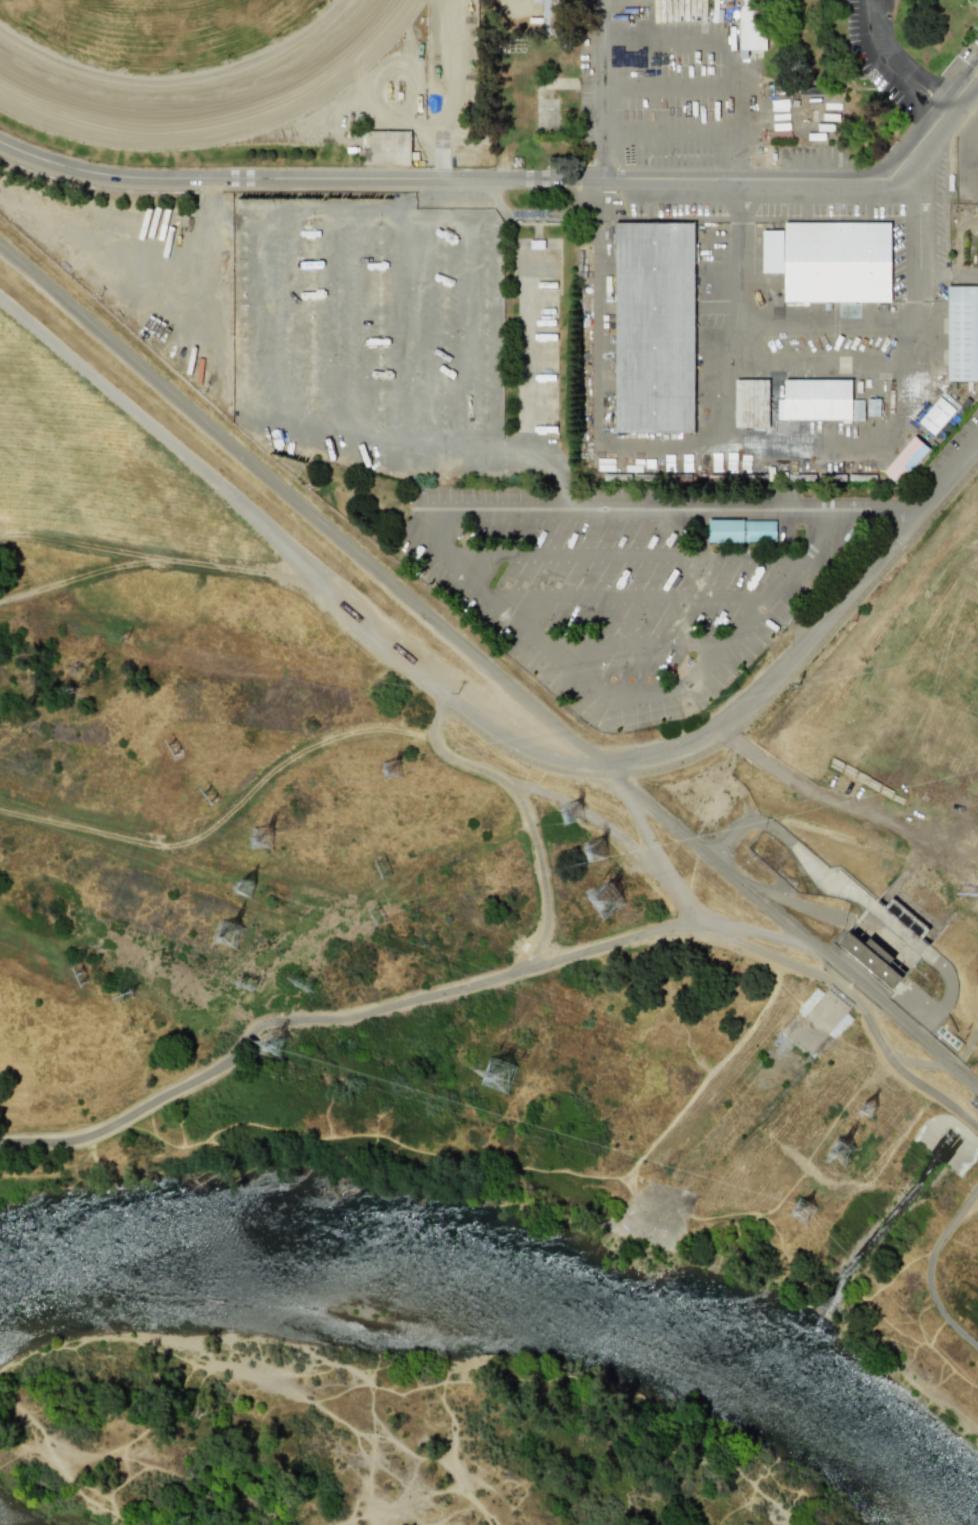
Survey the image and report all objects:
building: (547, 10)
building: (749, 26)
road: (730, 46)
road: (894, 63)
track: (183, 64)
road: (966, 67)
track: (194, 77)
road: (604, 89)
road: (668, 90)
road: (972, 157)
road: (966, 162)
parking lot: (967, 163)
road: (504, 179)
theme park: (552, 194)
road: (312, 211)
road: (376, 212)
road: (432, 215)
road: (475, 217)
road: (931, 221)
road: (911, 238)
building: (830, 261)
road: (824, 324)
building: (654, 326)
road: (492, 333)
building: (962, 333)
road: (399, 335)
road: (455, 352)
road: (839, 361)
building: (815, 400)
building: (751, 403)
building: (873, 407)
road: (844, 442)
road: (654, 445)
building: (905, 460)
road: (556, 462)
road: (299, 505)
road: (621, 505)
road: (877, 505)
building: (741, 530)
road: (289, 553)
road: (146, 554)
road: (630, 563)
road: (631, 603)
road: (812, 636)
road: (626, 693)
road: (440, 695)
power tower: (172, 751)
road: (584, 767)
power tower: (395, 769)
road: (610, 773)
road: (519, 783)
power tower: (208, 800)
power tower: (577, 814)
road: (224, 816)
road: (640, 824)
power tower: (265, 839)
power tower: (600, 852)
power tower: (390, 866)
power tower: (248, 889)
power tower: (609, 899)
power tower: (381, 915)
road: (780, 919)
road: (692, 922)
road: (730, 933)
power tower: (231, 934)
building: (873, 958)
road: (501, 973)
power tower: (80, 981)
power tower: (306, 985)
power tower: (249, 986)
power tower: (128, 998)
road: (262, 1030)
power tower: (279, 1044)
road: (939, 1064)
power tower: (501, 1076)
road: (702, 1082)
power tower: (872, 1110)
power tower: (845, 1152)
power tower: (801, 1211)
road: (935, 1273)
river: (514, 1293)

